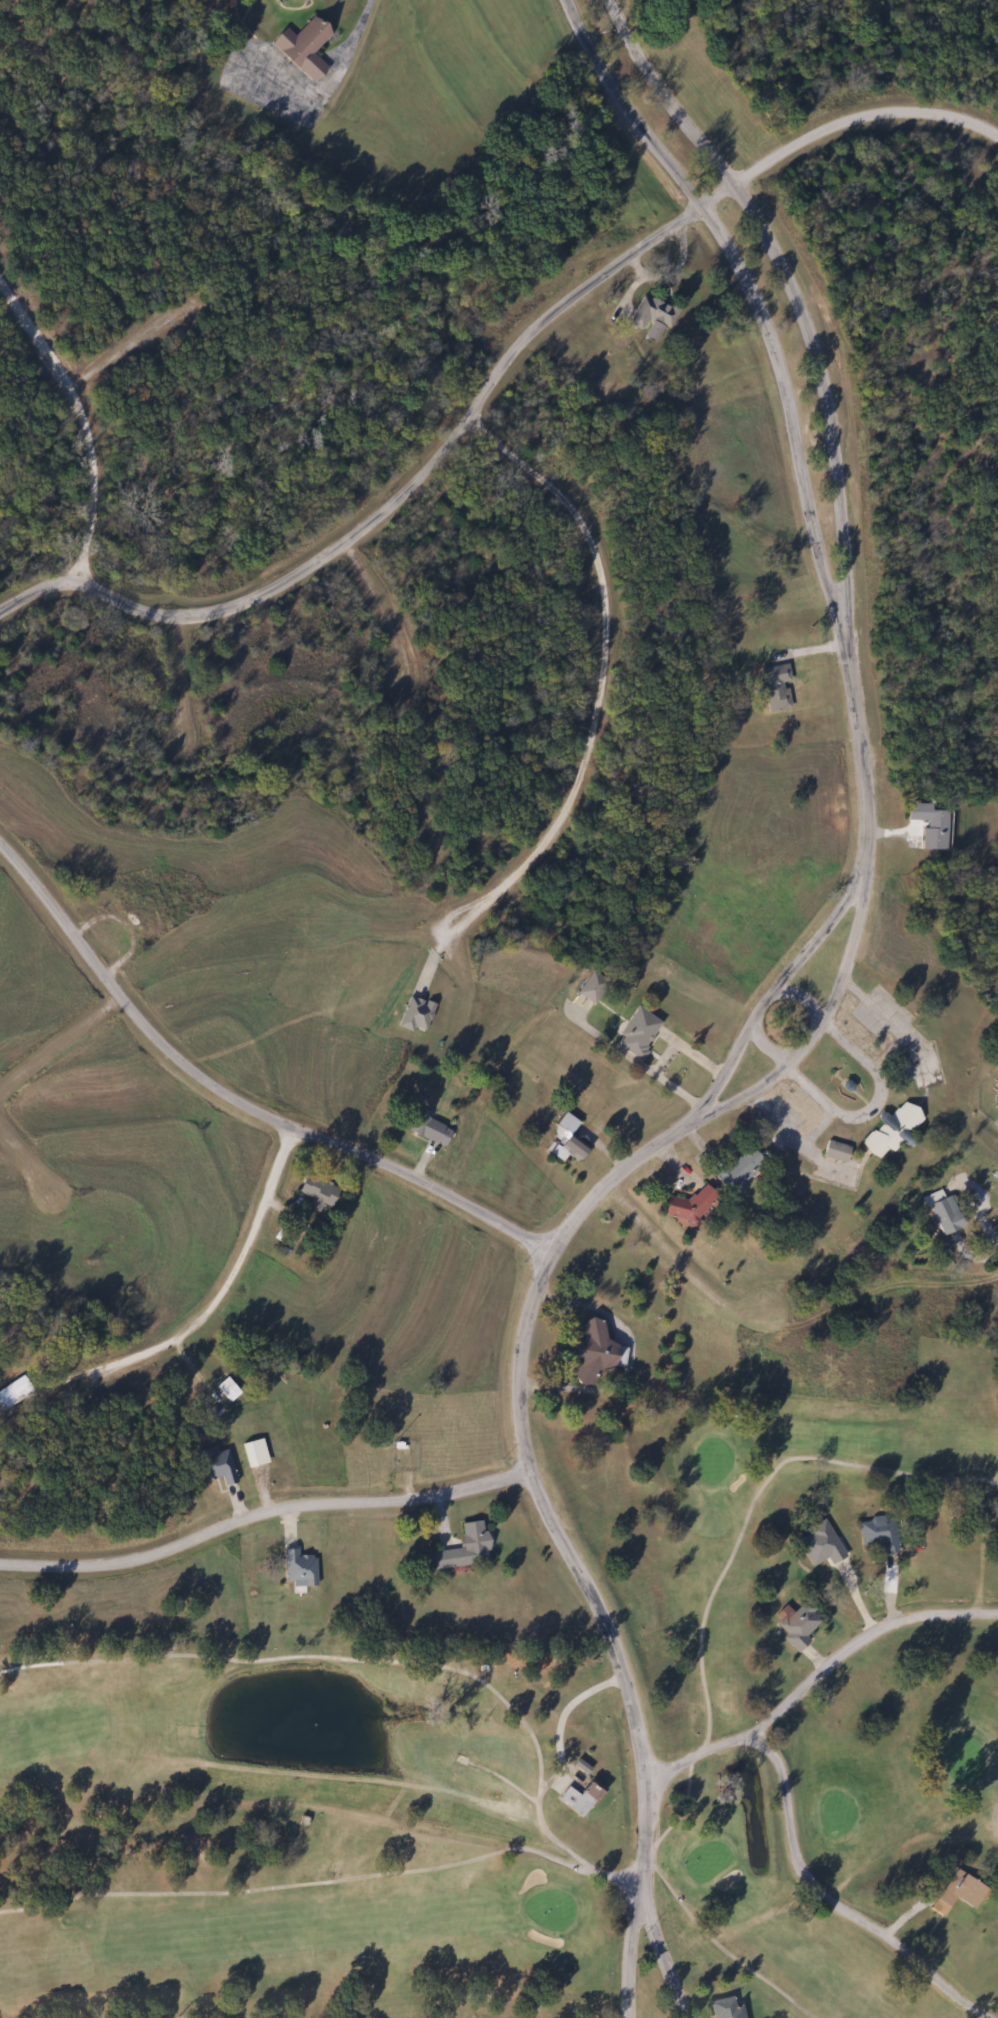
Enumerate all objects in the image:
road: (357, 36)
building: (303, 48)
road: (859, 116)
road: (718, 196)
road: (789, 288)
road: (750, 292)
road: (574, 299)
building: (650, 313)
building: (652, 332)
road: (134, 342)
road: (90, 410)
road: (298, 575)
road: (38, 588)
road: (377, 602)
road: (597, 666)
road: (177, 679)
building: (774, 688)
road: (861, 755)
building: (928, 825)
building: (141, 922)
building: (590, 987)
road: (769, 994)
building: (415, 1014)
road: (816, 1028)
building: (636, 1032)
road: (60, 1036)
road: (766, 1046)
road: (880, 1075)
road: (238, 1100)
building: (997, 1101)
building: (996, 1124)
building: (428, 1129)
building: (890, 1131)
building: (565, 1139)
building: (834, 1151)
road: (28, 1157)
building: (735, 1171)
building: (317, 1190)
building: (687, 1207)
building: (943, 1215)
road: (695, 1271)
road: (222, 1288)
building: (592, 1352)
building: (226, 1387)
building: (13, 1392)
building: (217, 1466)
road: (544, 1484)
road: (265, 1511)
building: (878, 1532)
building: (821, 1544)
building: (463, 1548)
building: (298, 1568)
building: (798, 1626)
road: (866, 1637)
building: (580, 1797)
road: (571, 1848)
road: (800, 1853)
building: (958, 1889)
road: (670, 1959)
road: (633, 1960)
building: (725, 2008)

